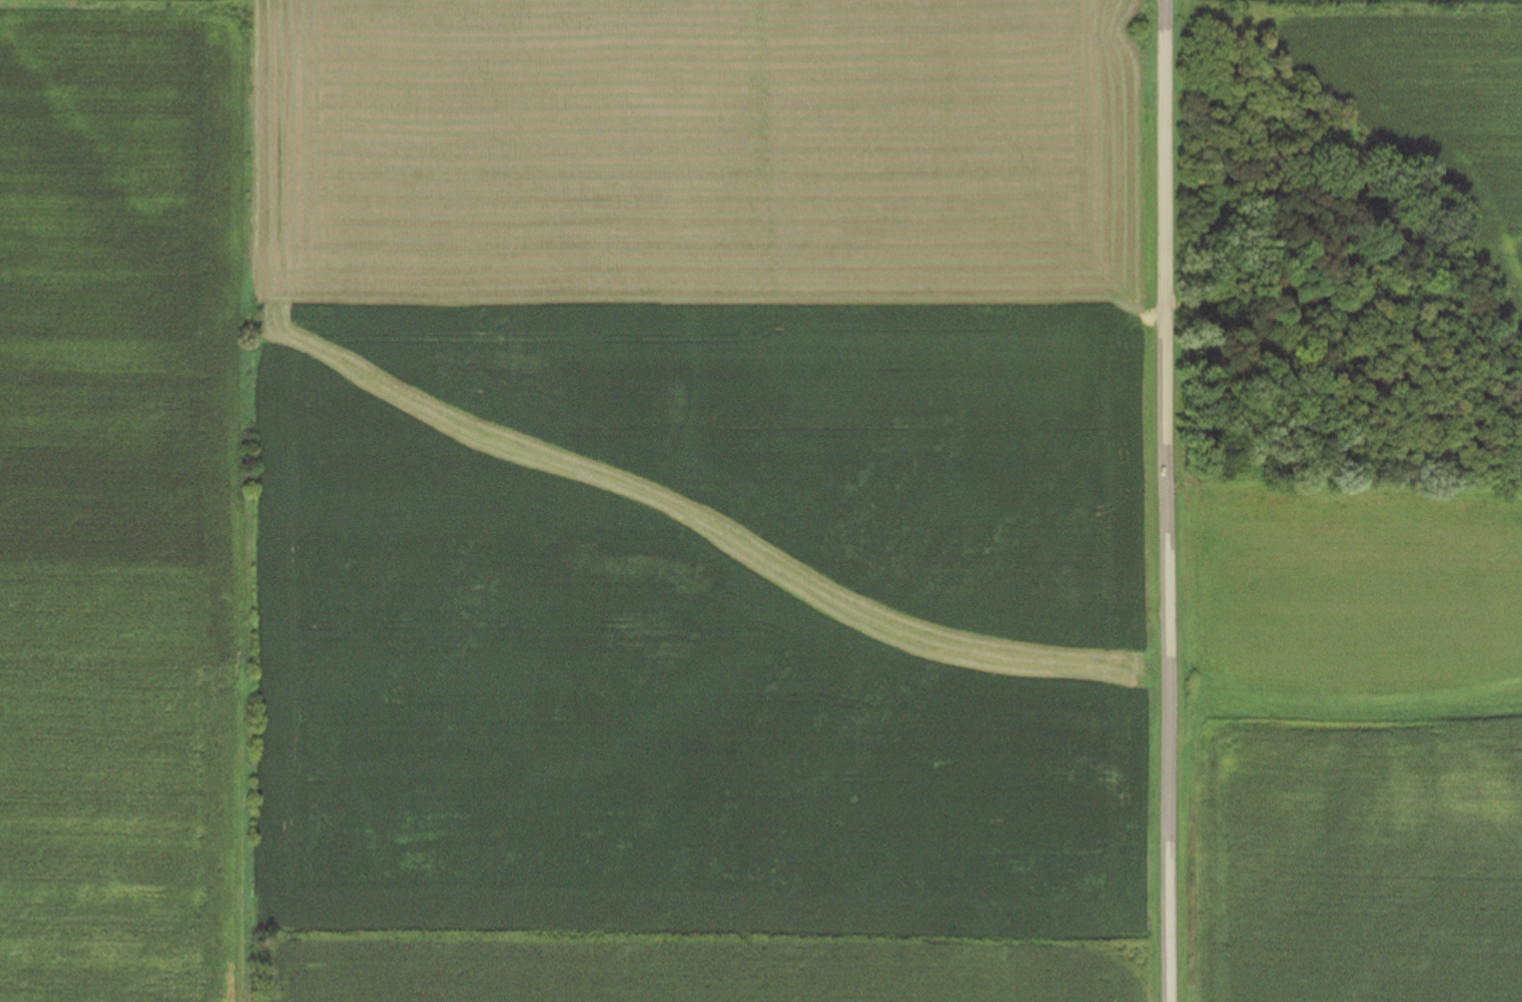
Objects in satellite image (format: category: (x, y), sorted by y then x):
road: (1165, 501)

